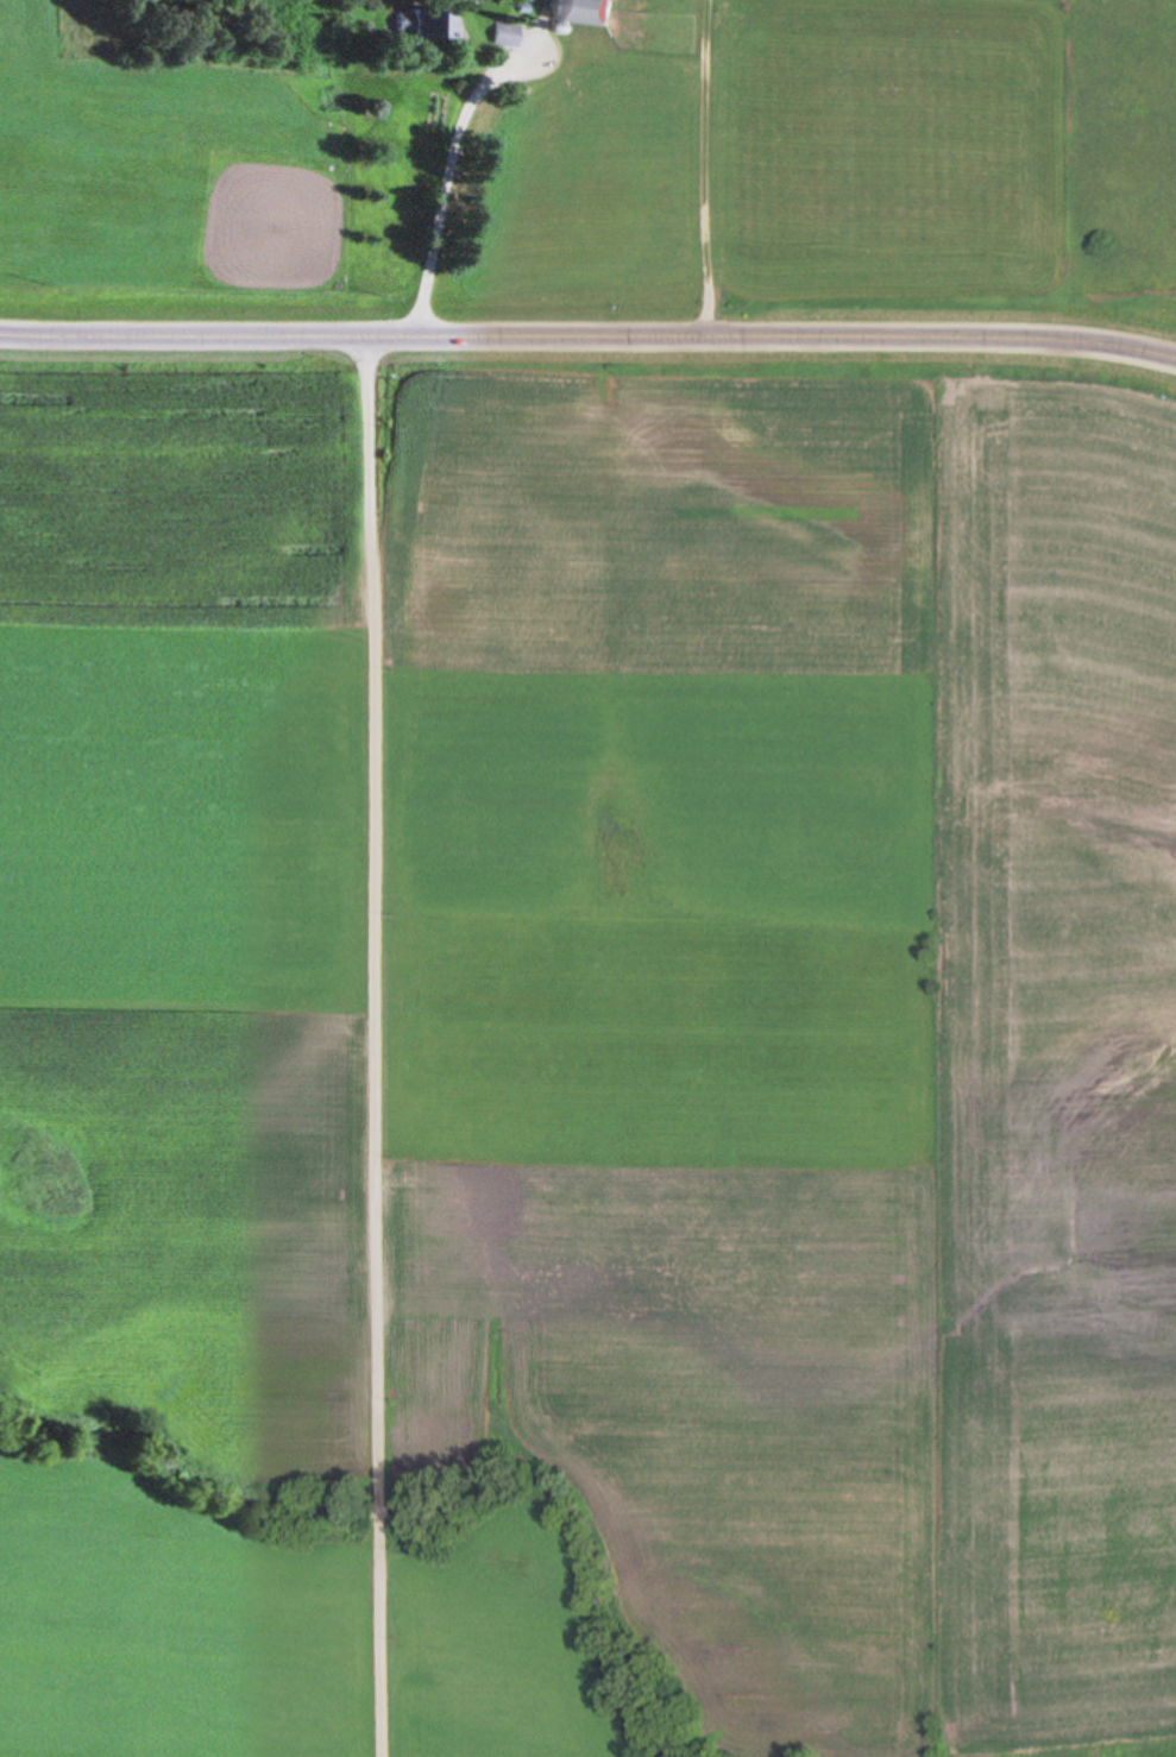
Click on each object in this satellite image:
building: (584, 8)
building: (428, 12)
building: (432, 32)
road: (453, 172)
road: (589, 332)
road: (344, 1044)

